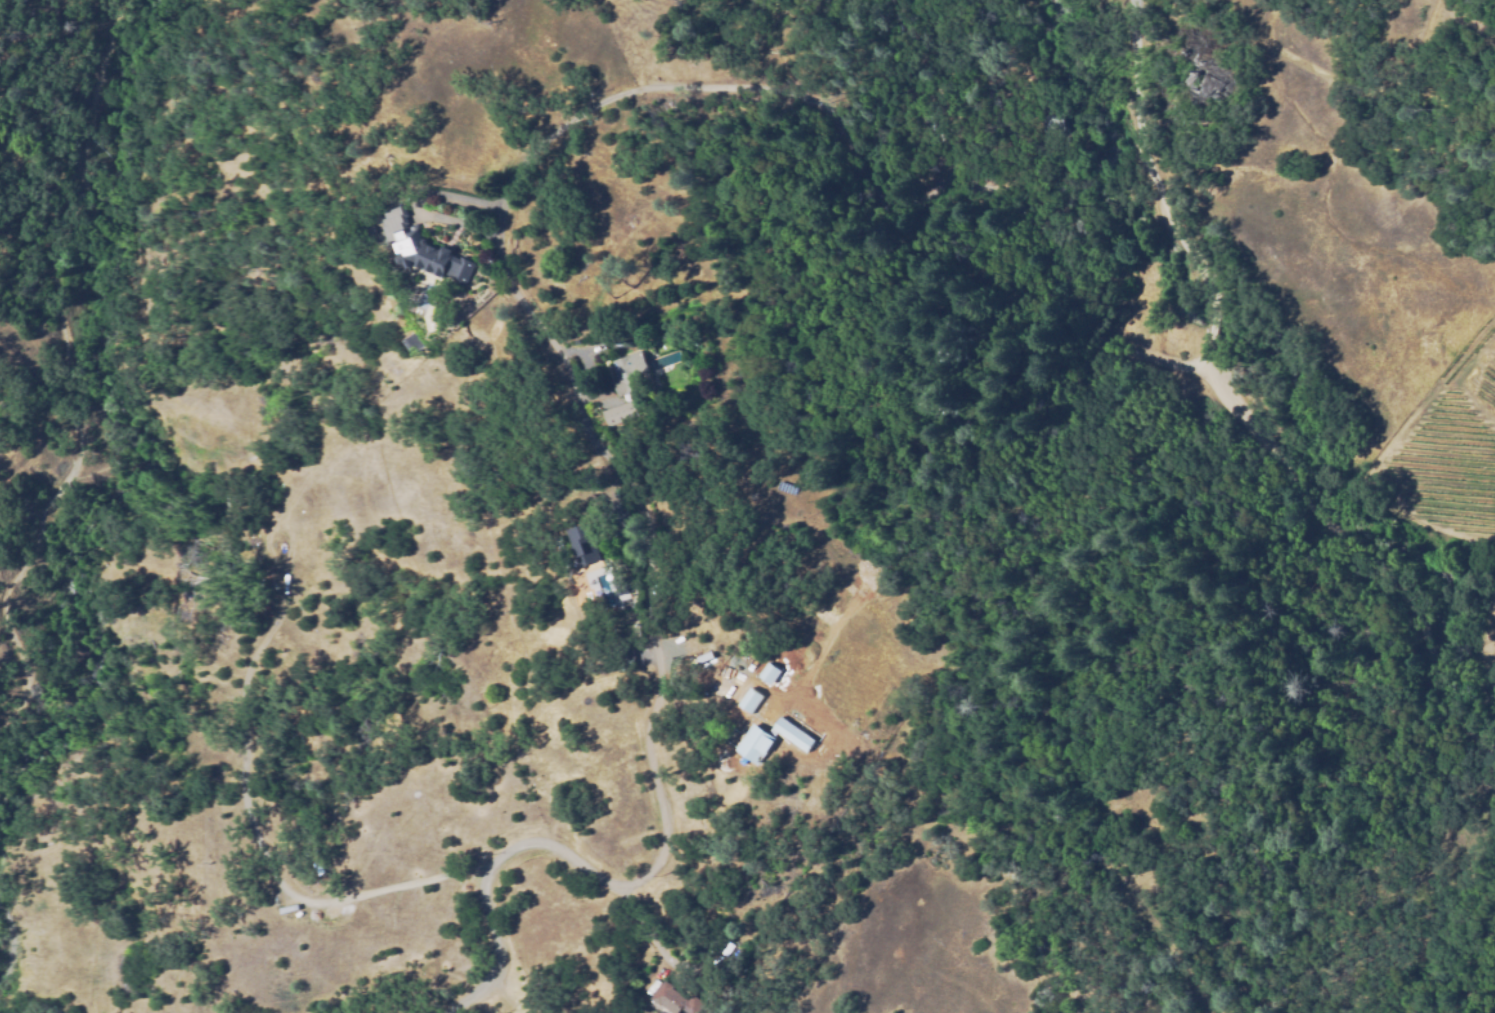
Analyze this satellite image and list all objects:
building: (1048, 125)
building: (371, 230)
building: (433, 257)
road: (510, 287)
building: (629, 372)
road: (1236, 412)
building: (618, 413)
building: (589, 505)
building: (584, 542)
building: (596, 547)
building: (625, 651)
building: (782, 657)
building: (765, 672)
building: (744, 746)
building: (677, 999)

